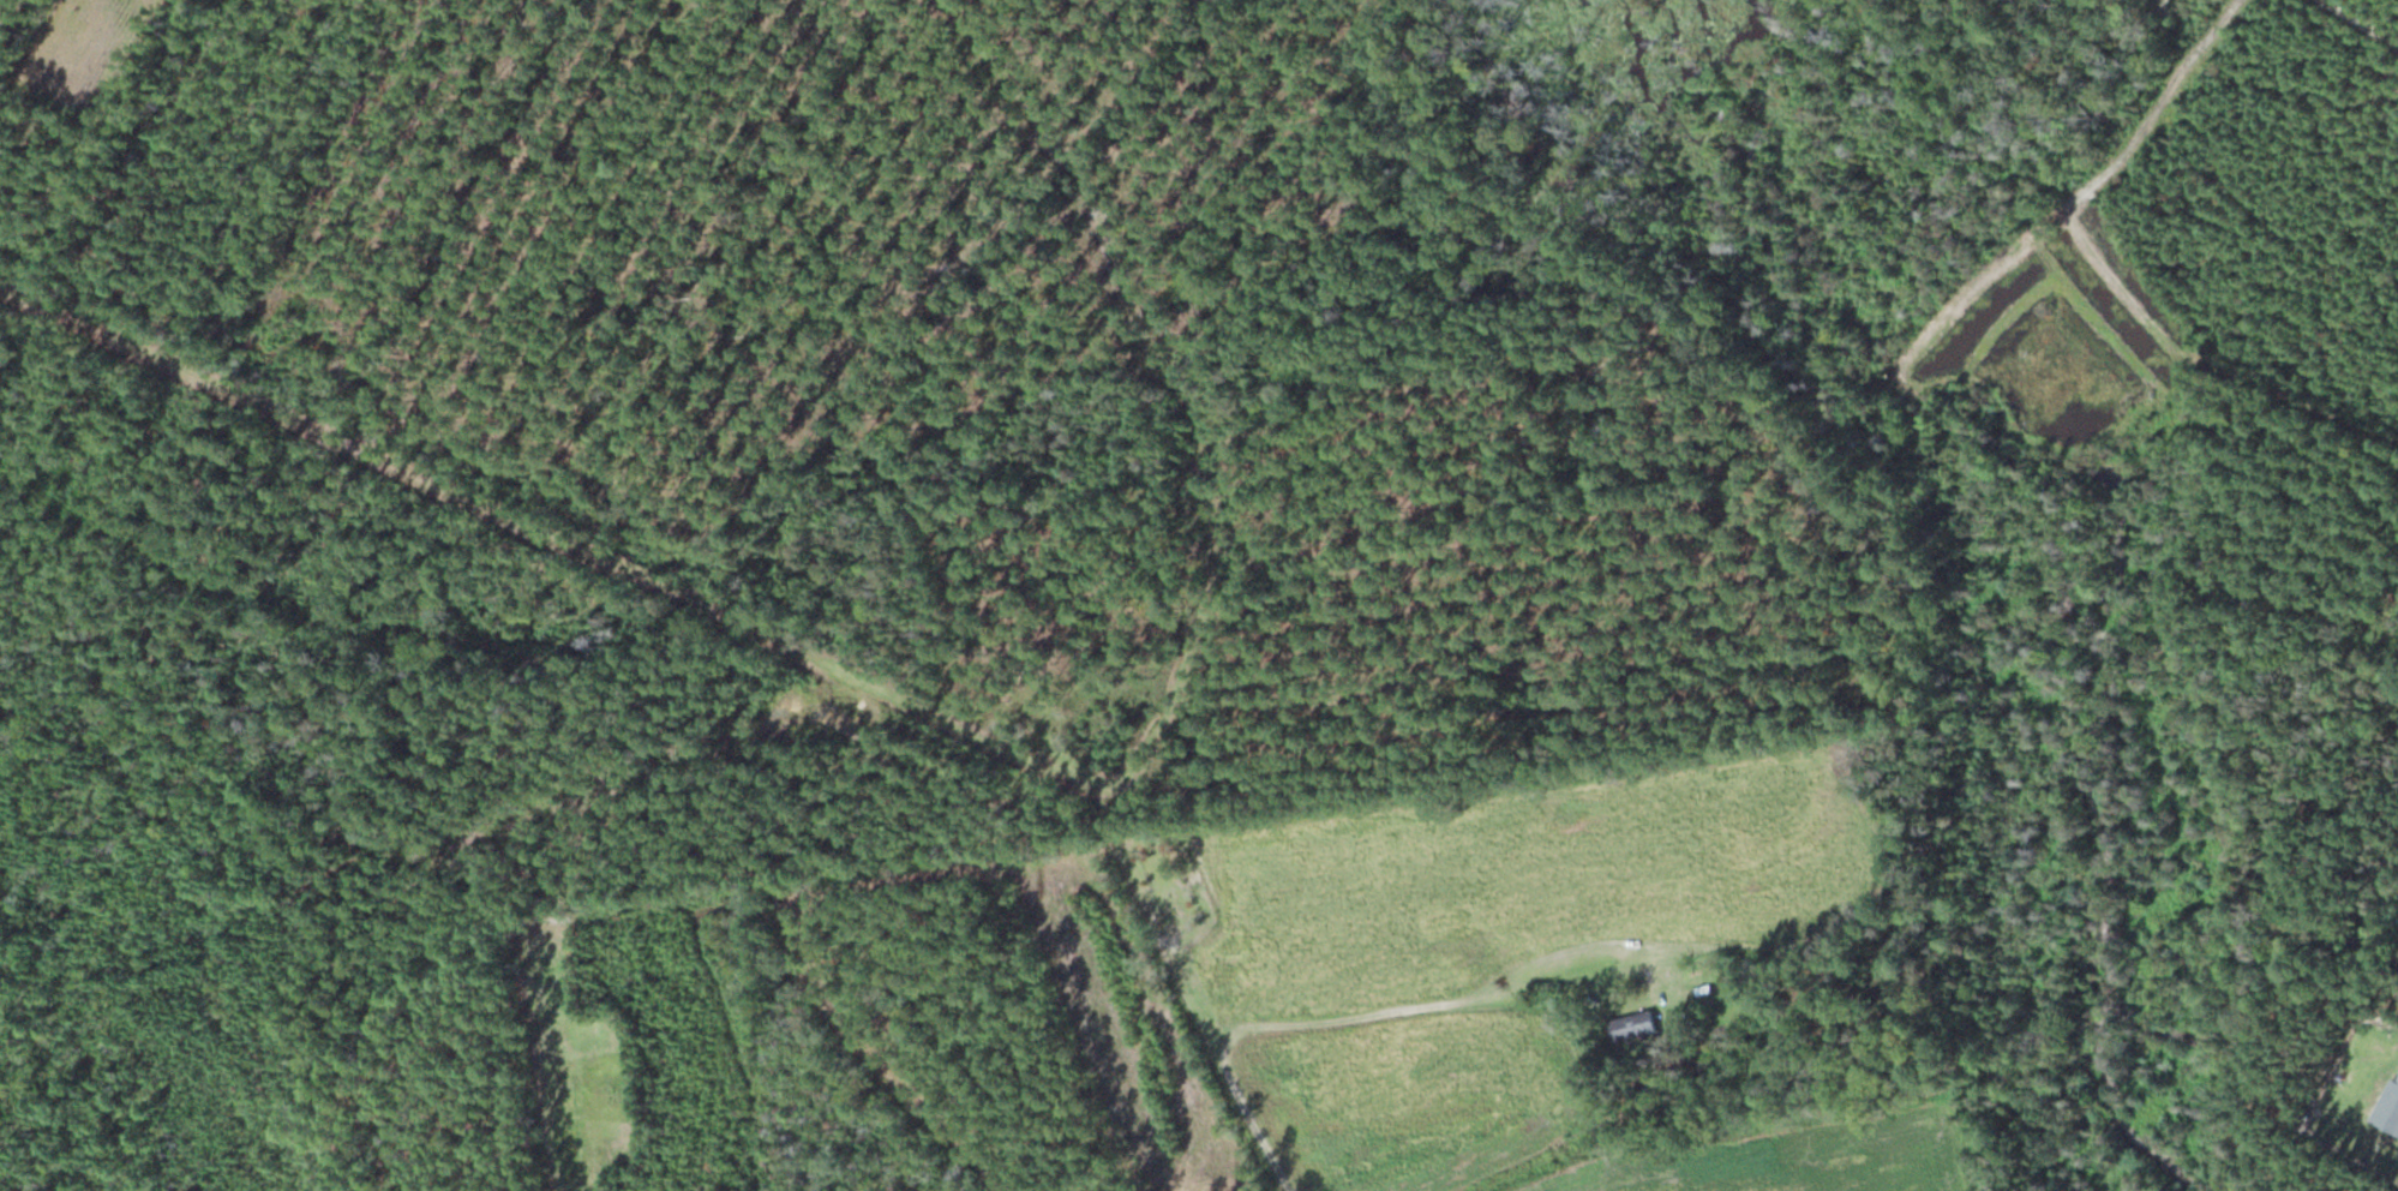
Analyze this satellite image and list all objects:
road: (2361, 22)
crop: (83, 48)
road: (2117, 285)
road: (1953, 307)
road: (2096, 317)
road: (2003, 321)
road: (681, 603)
road: (1345, 1017)
building: (1631, 1025)

